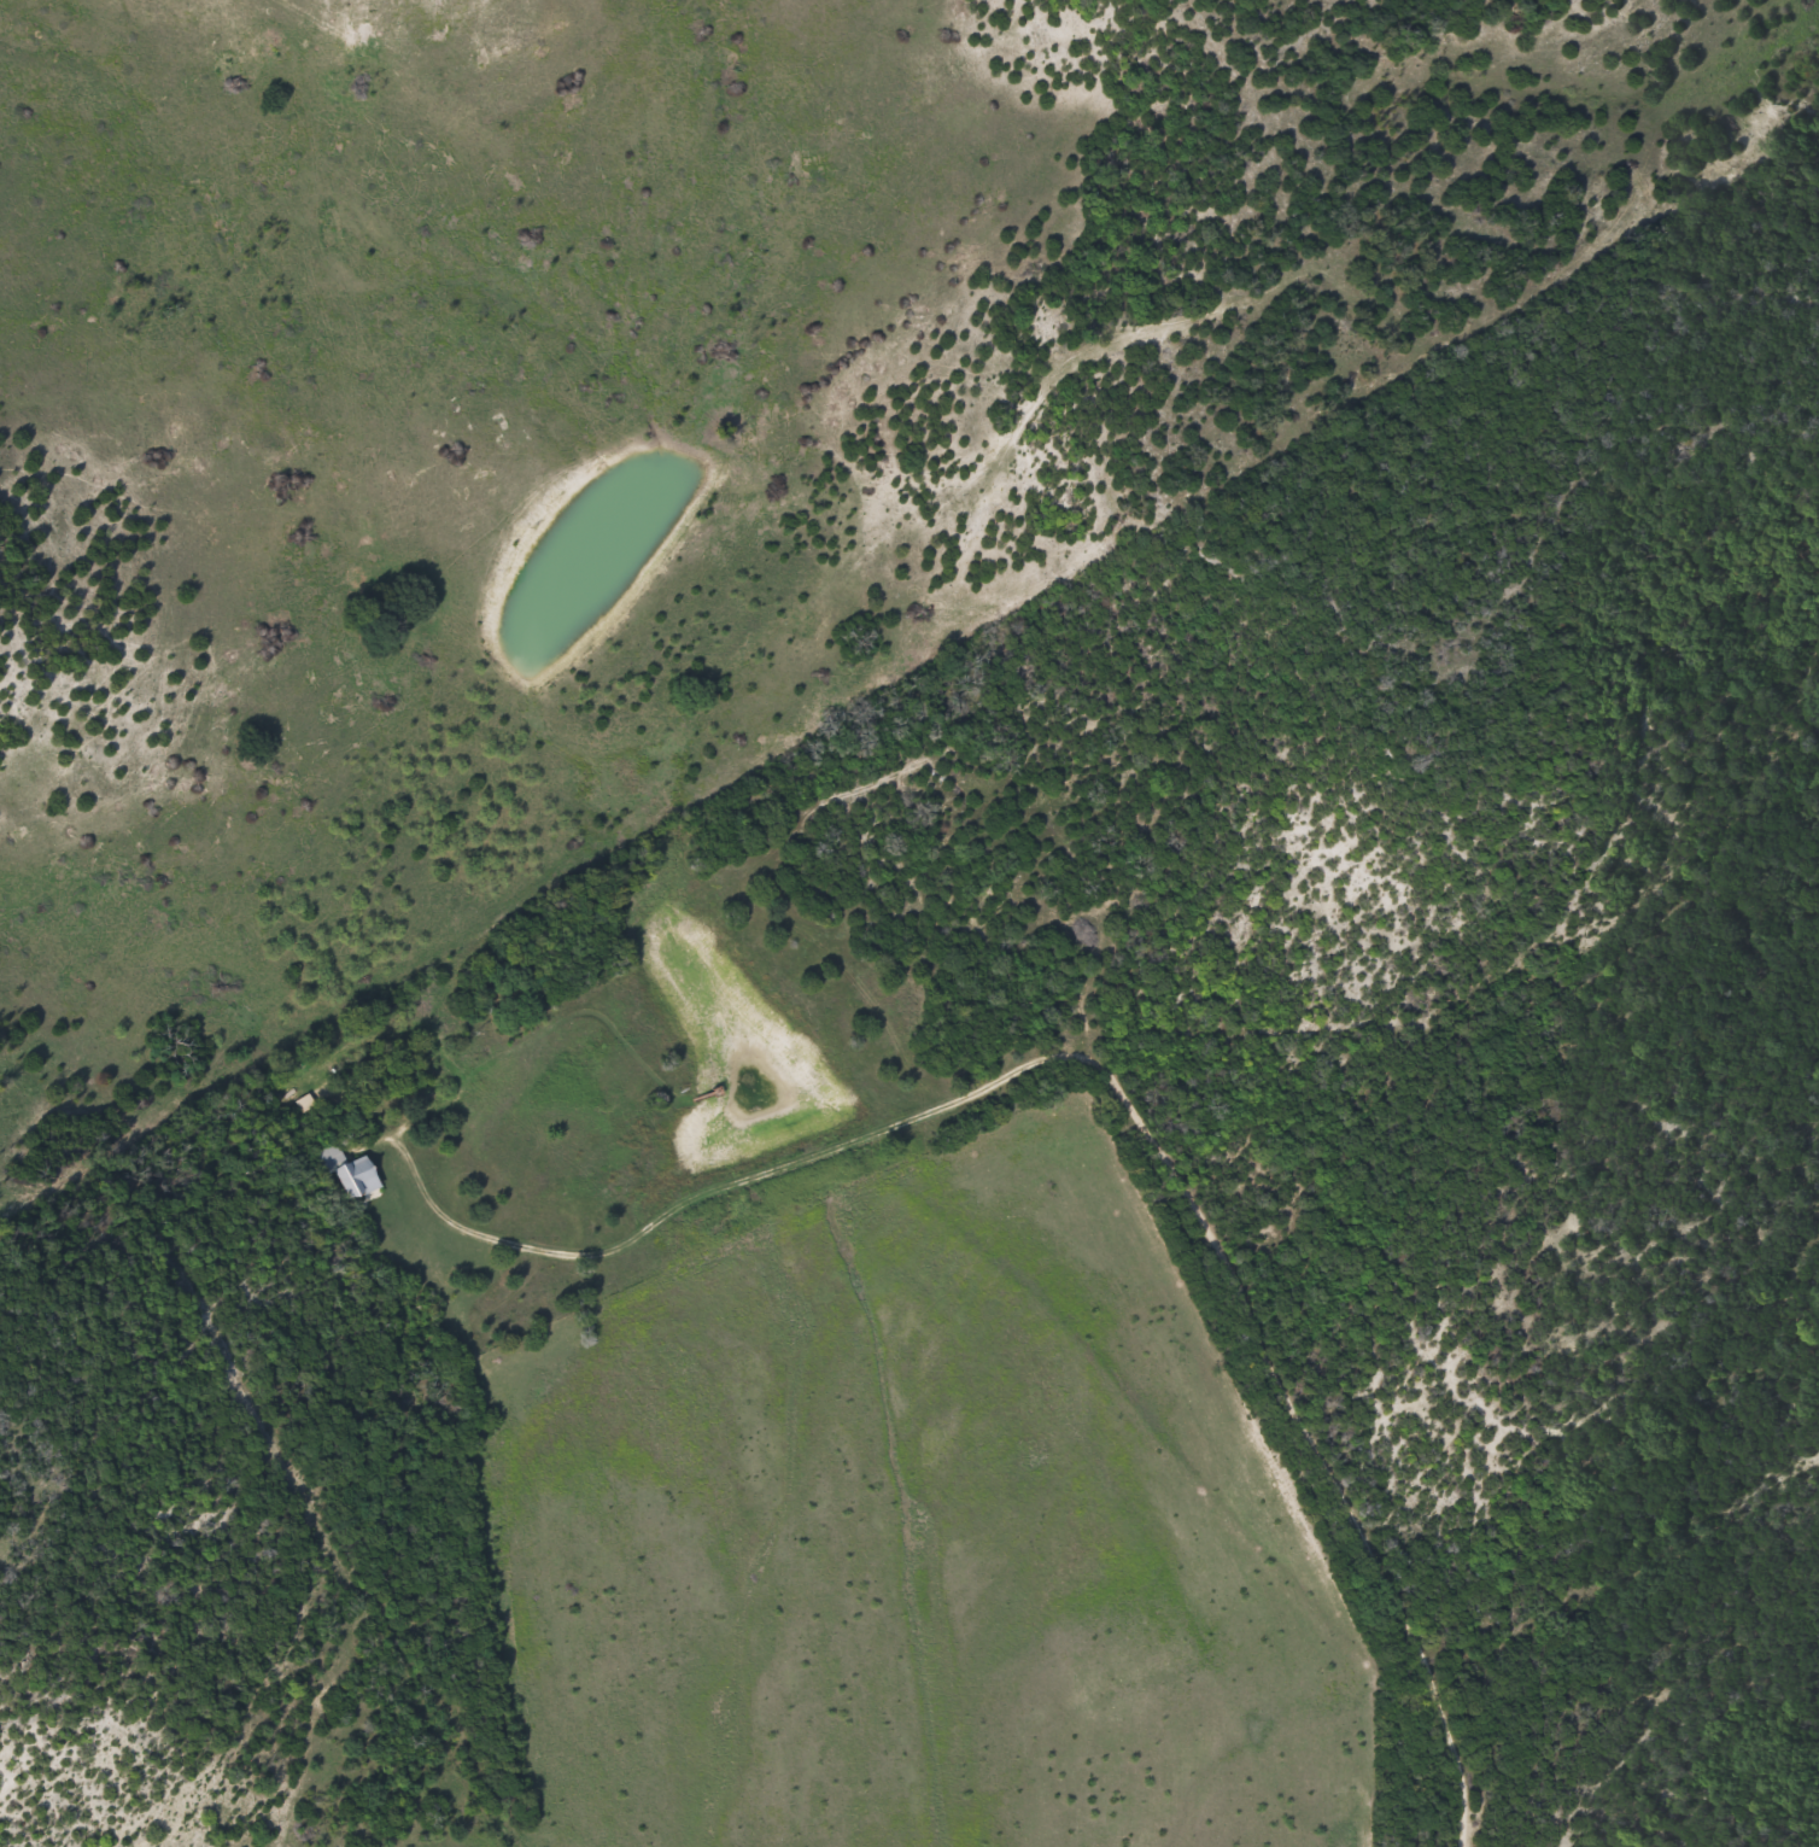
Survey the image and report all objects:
road: (1811, 901)
road: (764, 1007)
building: (341, 1171)

